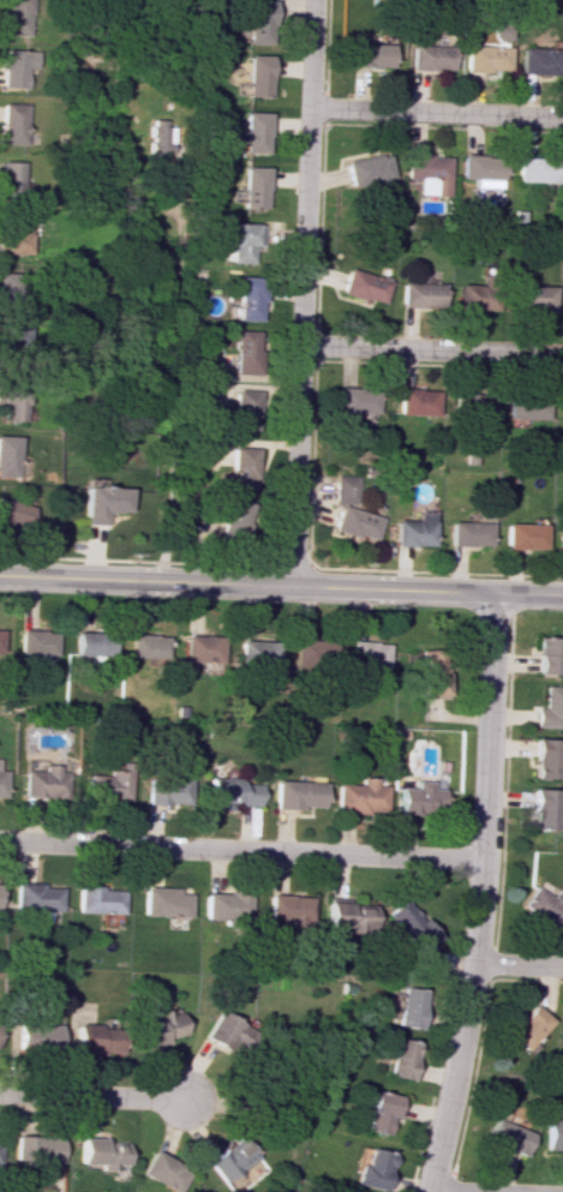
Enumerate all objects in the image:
building: (13, 13)
building: (254, 18)
building: (498, 31)
building: (367, 54)
building: (479, 54)
building: (430, 55)
building: (535, 59)
building: (14, 71)
building: (256, 76)
road: (436, 112)
building: (11, 122)
building: (157, 134)
building: (253, 136)
building: (427, 164)
building: (480, 166)
building: (535, 167)
building: (363, 168)
building: (10, 179)
building: (251, 184)
building: (12, 232)
building: (241, 241)
building: (360, 284)
building: (8, 289)
building: (474, 292)
road: (303, 293)
building: (415, 293)
building: (528, 294)
building: (247, 295)
building: (562, 303)
building: (10, 345)
building: (246, 348)
road: (431, 352)
road: (173, 377)
building: (417, 400)
building: (353, 401)
building: (11, 402)
building: (467, 402)
building: (529, 405)
building: (240, 408)
building: (562, 413)
building: (5, 455)
building: (245, 461)
building: (345, 489)
building: (103, 502)
building: (5, 509)
building: (226, 521)
building: (354, 522)
building: (466, 528)
building: (409, 532)
building: (521, 535)
building: (558, 535)
road: (281, 587)
building: (0, 629)
building: (0, 645)
building: (38, 647)
building: (95, 647)
building: (146, 649)
building: (203, 652)
building: (312, 653)
building: (260, 655)
building: (545, 655)
building: (366, 660)
building: (430, 672)
building: (549, 707)
building: (543, 759)
building: (2, 781)
building: (43, 781)
building: (106, 786)
building: (164, 789)
building: (230, 791)
building: (288, 795)
building: (353, 797)
building: (413, 798)
building: (540, 808)
road: (240, 850)
building: (35, 894)
road: (477, 894)
building: (95, 900)
building: (161, 900)
building: (221, 905)
building: (541, 905)
building: (285, 906)
building: (345, 912)
building: (406, 923)
road: (517, 966)
building: (407, 1007)
building: (526, 1026)
building: (562, 1028)
building: (152, 1029)
building: (29, 1035)
building: (217, 1036)
building: (85, 1037)
building: (400, 1058)
building: (258, 1086)
road: (96, 1096)
building: (378, 1112)
building: (553, 1133)
building: (505, 1136)
building: (90, 1149)
building: (34, 1150)
building: (223, 1160)
building: (372, 1169)
building: (157, 1172)

